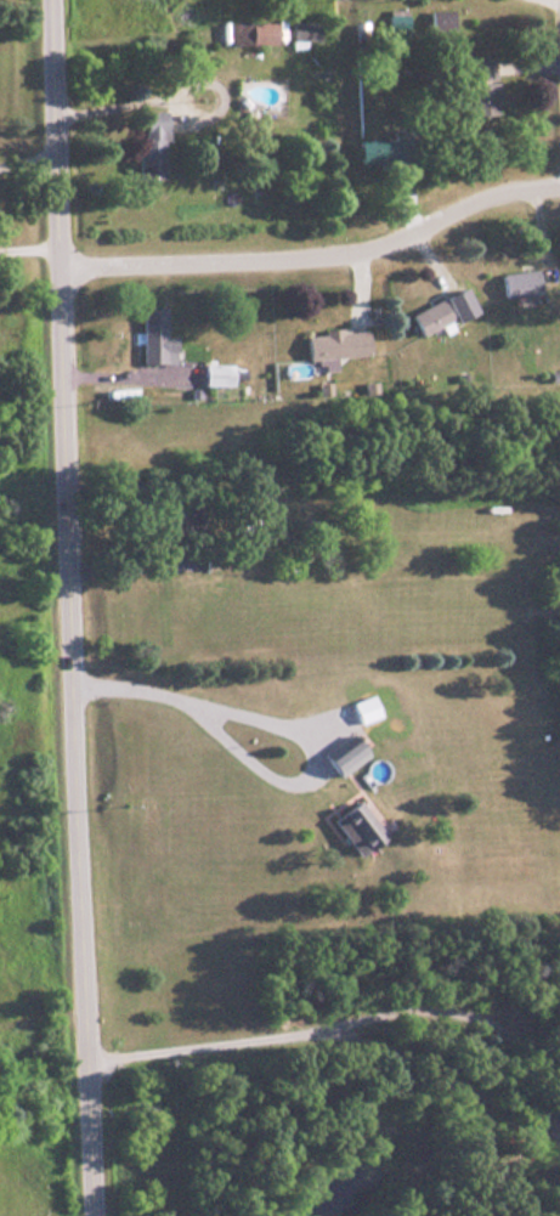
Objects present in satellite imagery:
building: (249, 34)
building: (300, 34)
building: (480, 87)
road: (29, 146)
building: (147, 146)
building: (381, 149)
road: (30, 236)
road: (317, 251)
building: (513, 283)
building: (428, 317)
building: (152, 338)
building: (335, 345)
building: (528, 514)
road: (73, 607)
road: (289, 717)
building: (340, 757)
park: (29, 805)
building: (351, 825)
road: (329, 1028)

